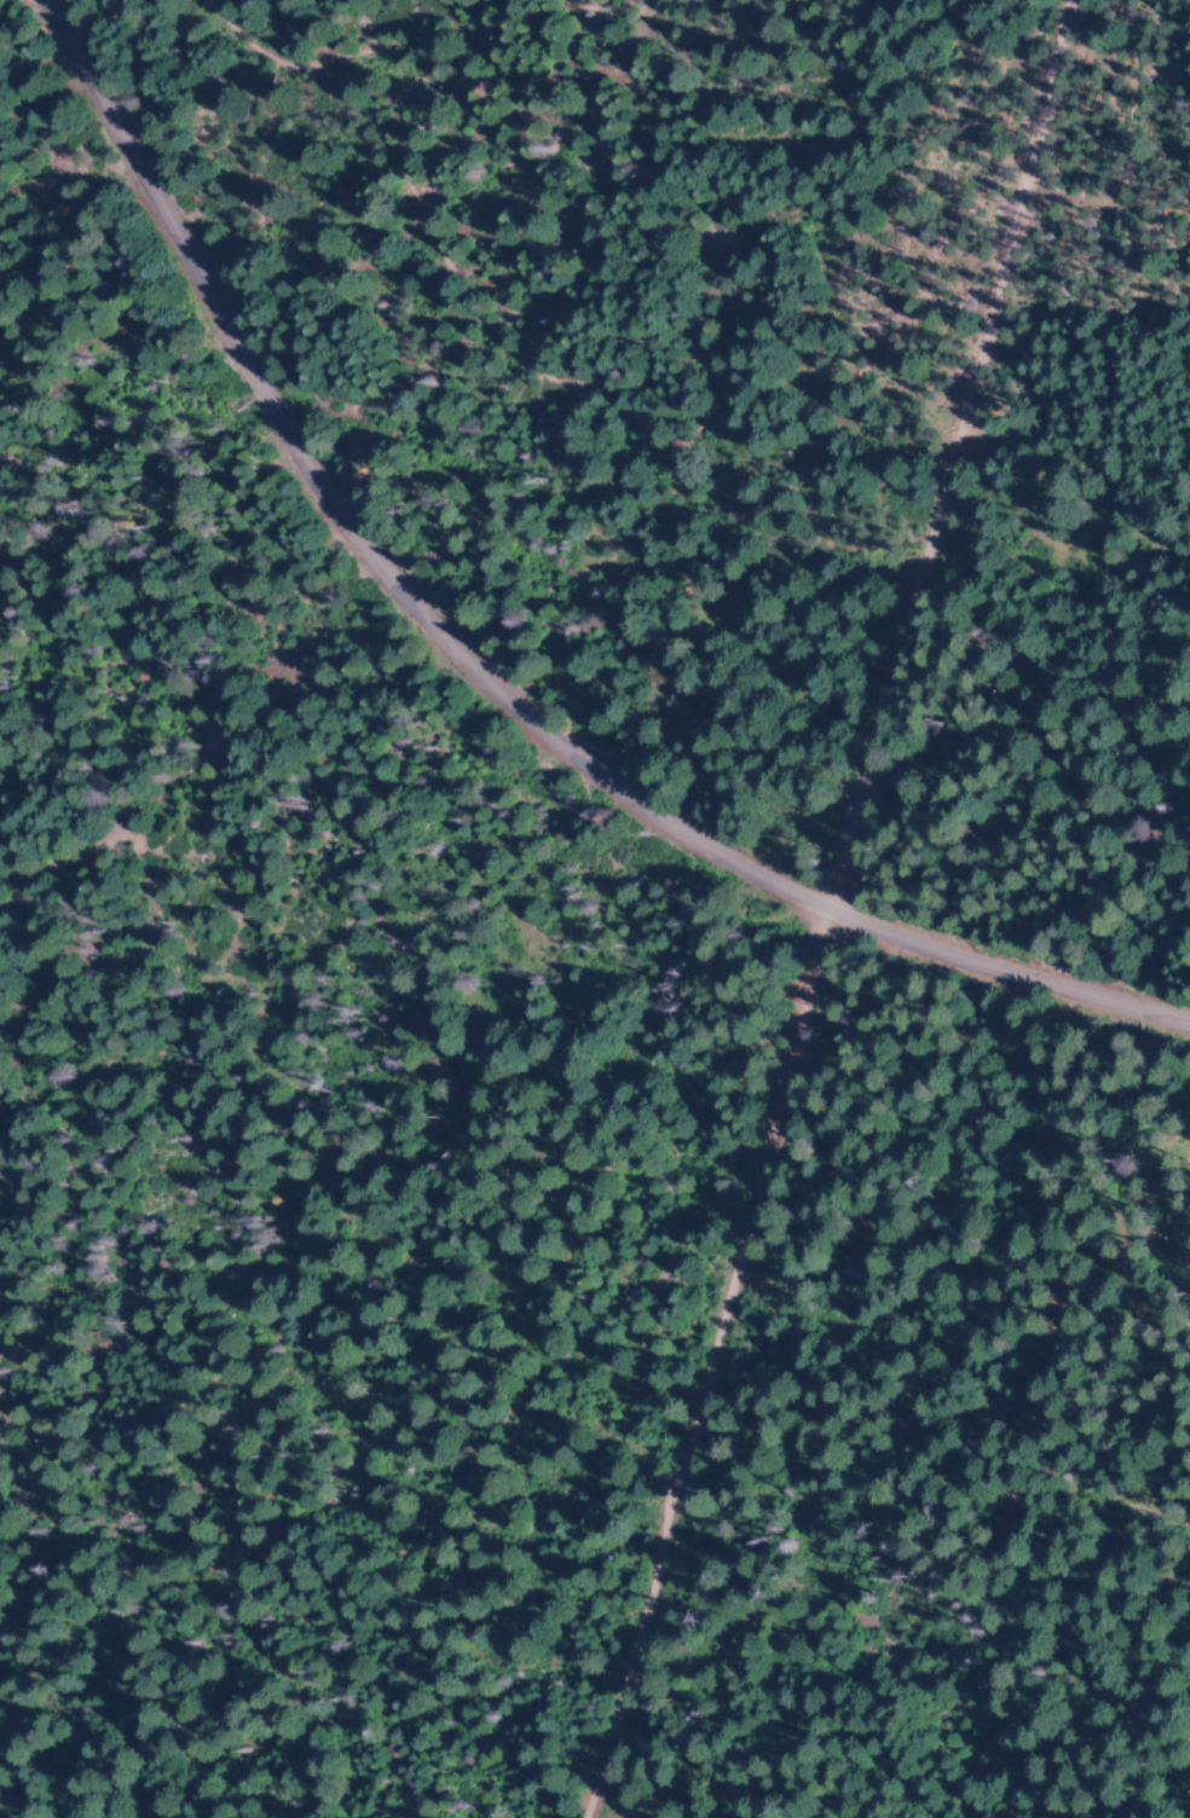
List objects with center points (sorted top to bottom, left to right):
road: (479, 671)
road: (834, 911)
road: (1188, 1810)

